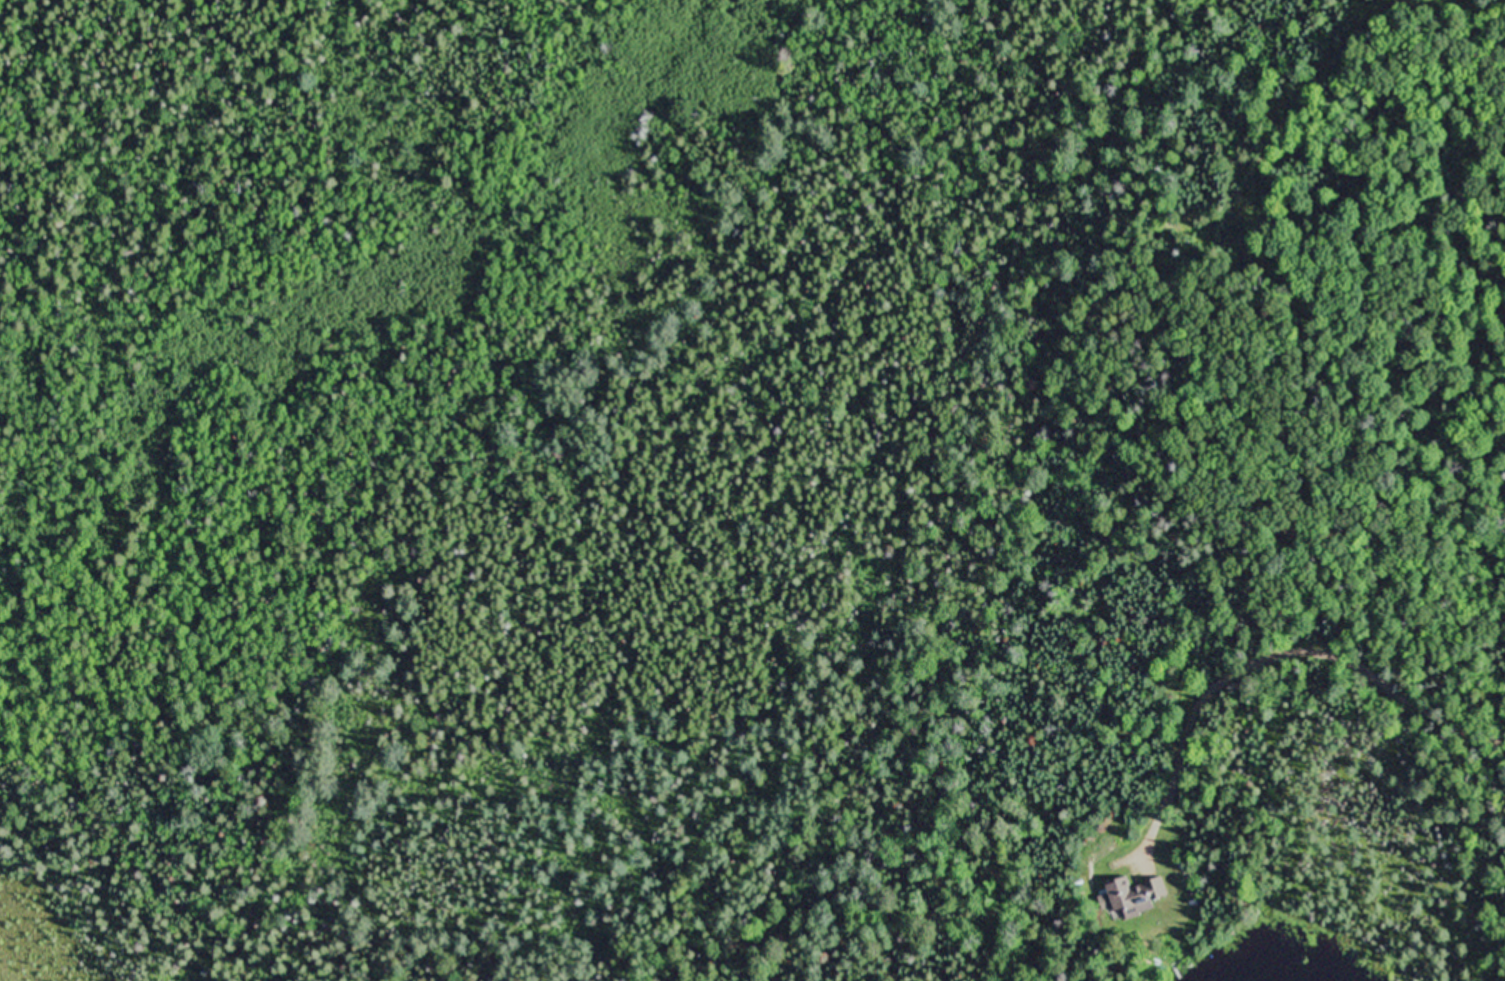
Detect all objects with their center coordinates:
road: (1346, 657)
building: (1136, 896)

